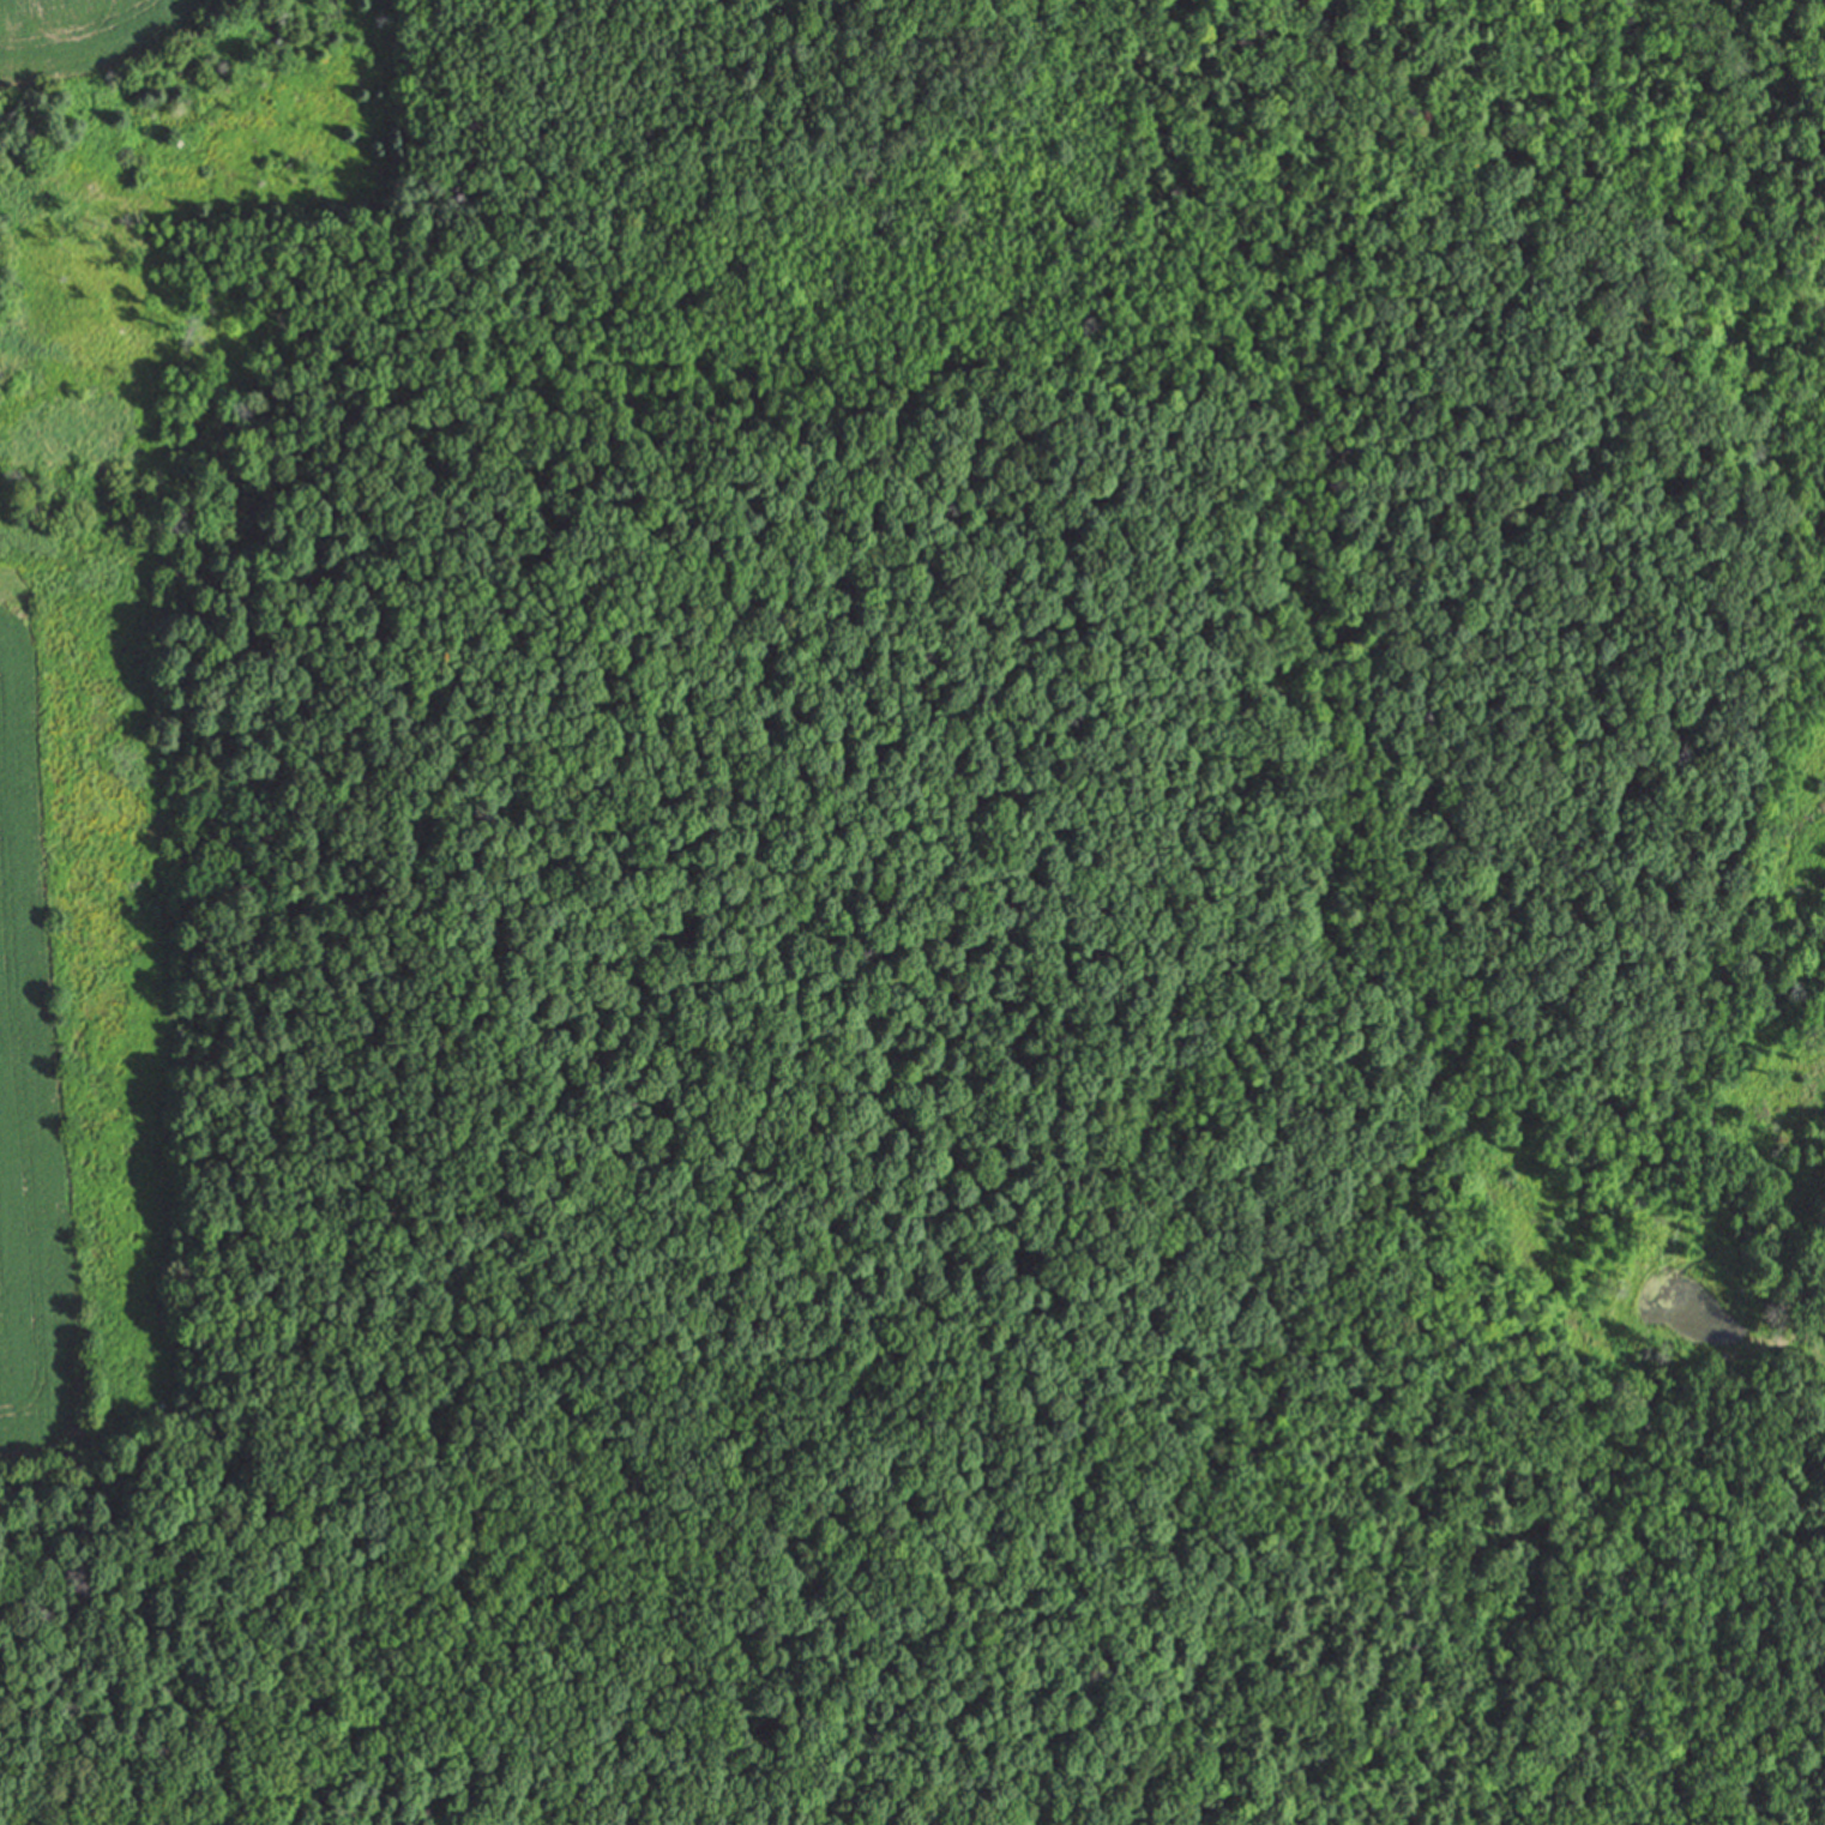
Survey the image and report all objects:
river: (1698, 258)
river: (1710, 1148)
river: (1743, 1668)

